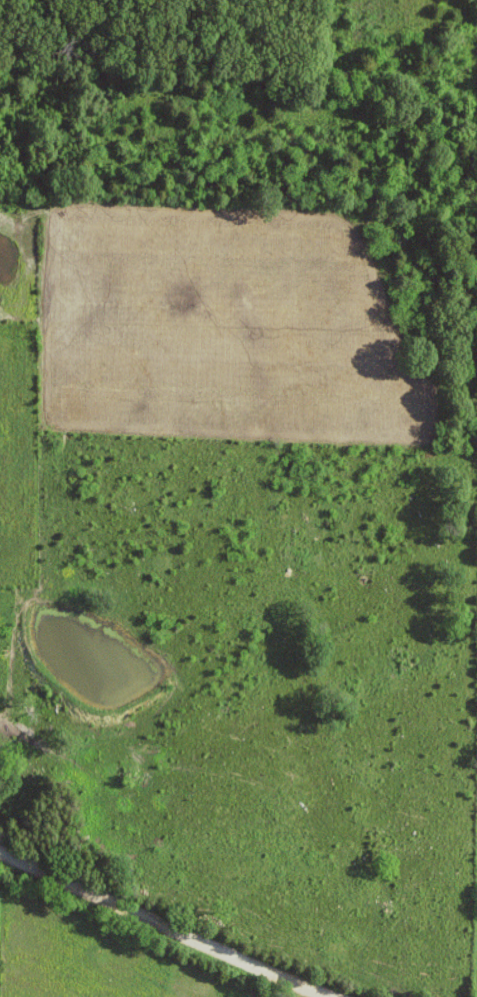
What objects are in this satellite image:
road: (175, 921)

